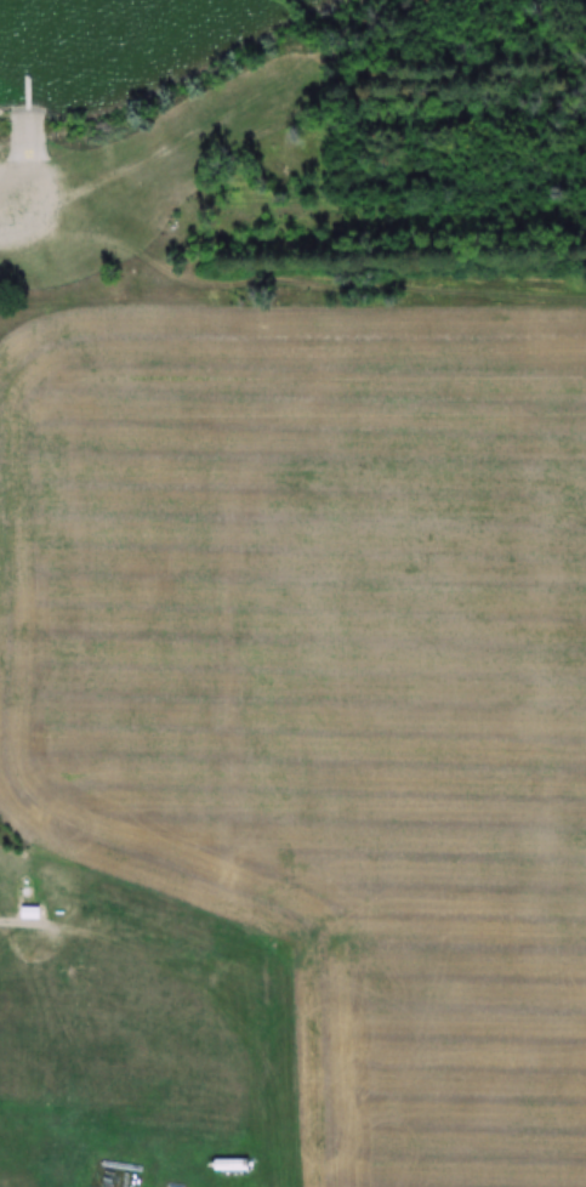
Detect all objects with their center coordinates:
building: (24, 910)

